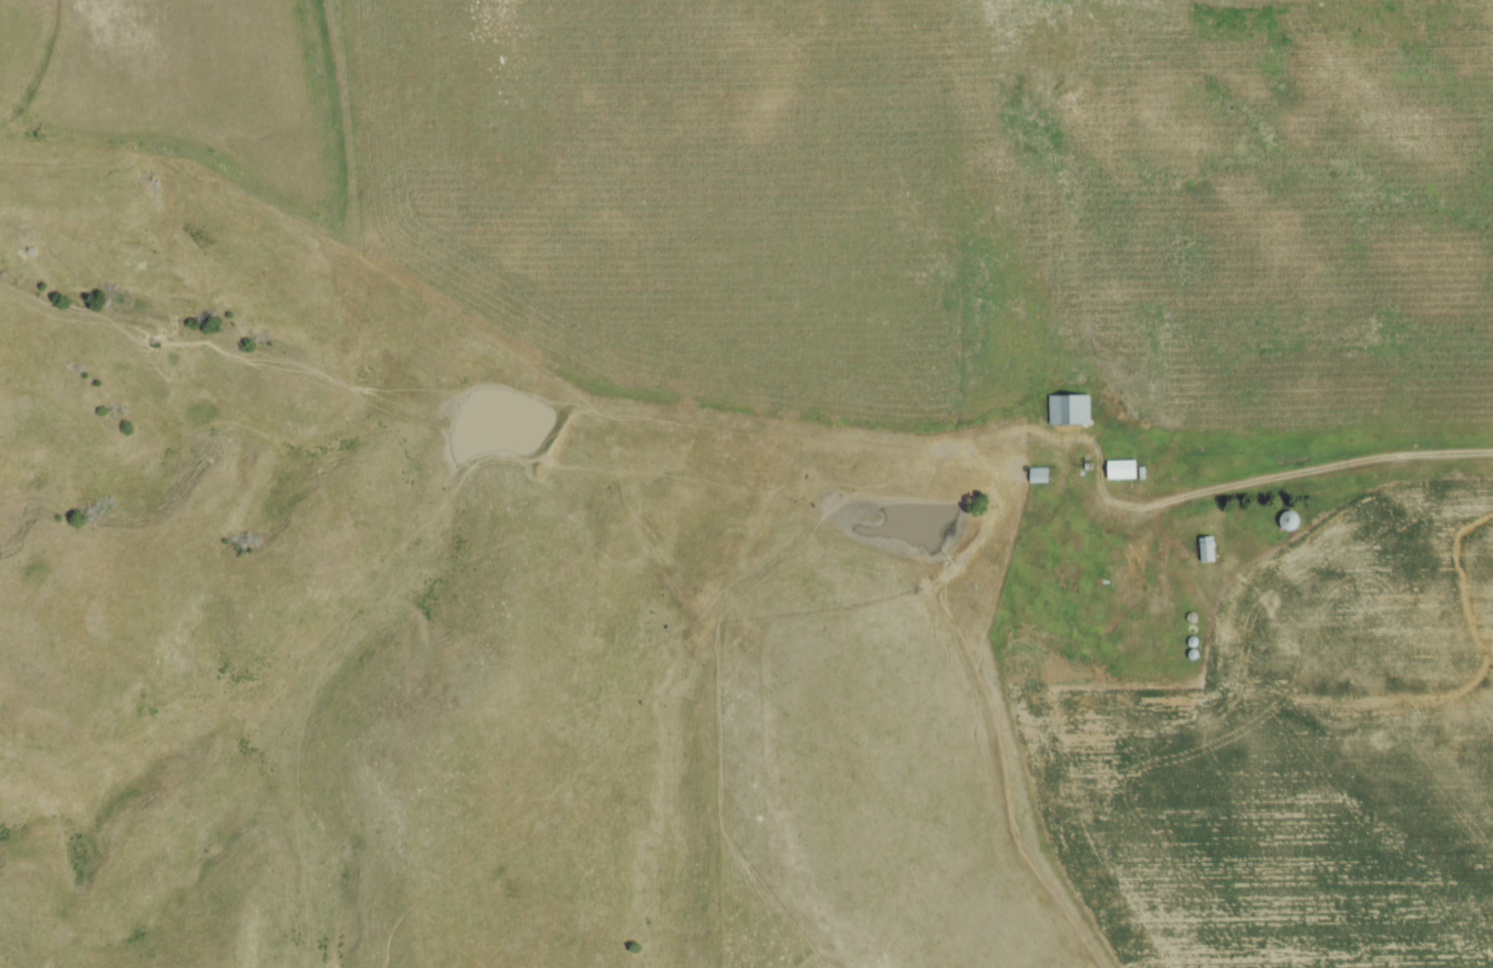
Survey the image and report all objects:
building: (1072, 413)
building: (1124, 472)
road: (1303, 476)
building: (1040, 477)
building: (1292, 524)
building: (1209, 552)

